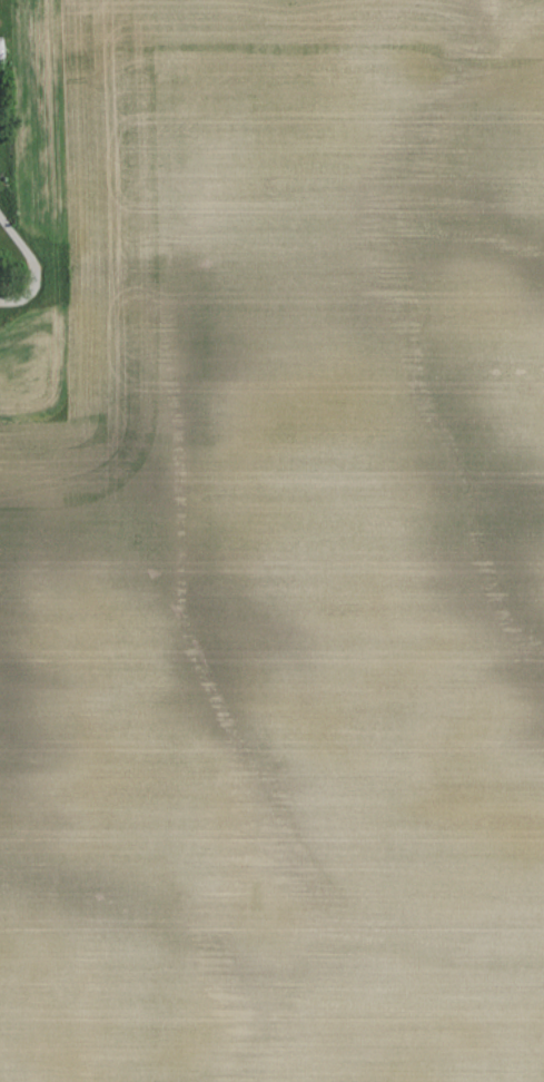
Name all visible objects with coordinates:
road: (37, 263)

